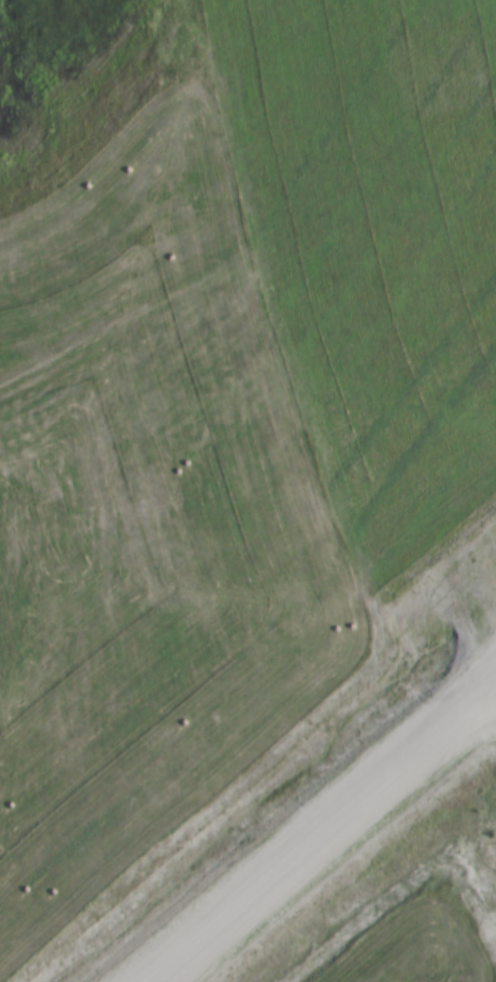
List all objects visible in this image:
quarry: (297, 816)

